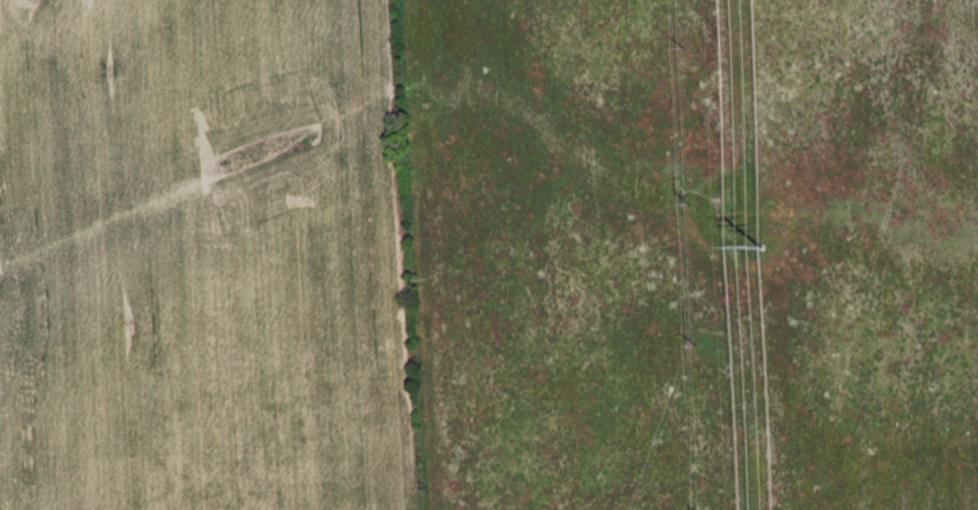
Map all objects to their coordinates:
power tower: (758, 249)

